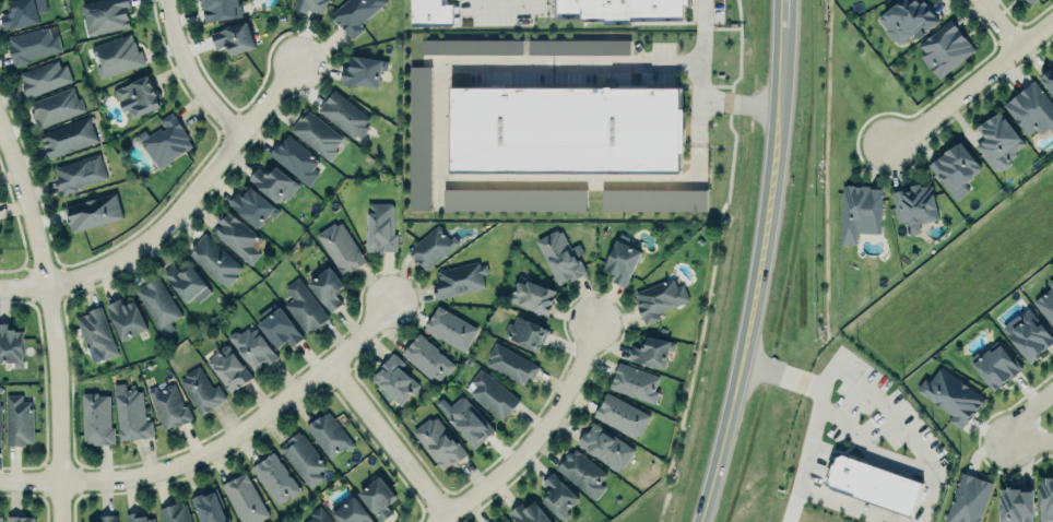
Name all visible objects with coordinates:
building: (1030, 1)
building: (308, 5)
road: (499, 5)
building: (221, 9)
building: (614, 9)
building: (430, 12)
building: (20, 14)
building: (354, 14)
road: (777, 14)
building: (105, 15)
building: (907, 19)
road: (995, 23)
road: (722, 32)
building: (235, 38)
building: (32, 44)
building: (471, 47)
building: (578, 47)
building: (944, 49)
building: (117, 55)
road: (624, 63)
road: (696, 70)
building: (362, 72)
road: (190, 73)
building: (44, 76)
building: (1048, 79)
road: (970, 81)
road: (717, 87)
building: (138, 95)
road: (734, 100)
building: (54, 107)
road: (725, 109)
building: (1031, 109)
parking lot: (556, 110)
building: (343, 115)
building: (565, 128)
building: (316, 134)
building: (67, 137)
building: (419, 138)
building: (166, 141)
building: (997, 141)
building: (294, 159)
building: (955, 169)
building: (79, 173)
road: (473, 181)
building: (273, 183)
building: (513, 200)
building: (653, 200)
building: (253, 206)
building: (914, 206)
building: (859, 212)
building: (92, 213)
road: (173, 213)
building: (380, 228)
building: (236, 236)
building: (340, 248)
building: (429, 248)
building: (559, 257)
building: (215, 260)
building: (622, 260)
road: (753, 276)
building: (459, 278)
building: (185, 282)
building: (327, 288)
building: (532, 297)
building: (659, 299)
building: (158, 304)
building: (1046, 304)
building: (304, 306)
road: (50, 317)
building: (127, 319)
building: (280, 329)
building: (450, 329)
building: (525, 333)
building: (96, 334)
building: (1027, 335)
building: (10, 346)
building: (252, 347)
building: (651, 349)
building: (426, 358)
building: (510, 364)
building: (995, 367)
building: (228, 368)
road: (779, 375)
building: (395, 380)
building: (635, 382)
building: (201, 390)
building: (951, 394)
building: (492, 395)
building: (0, 400)
building: (168, 406)
building: (131, 414)
building: (622, 414)
building: (17, 418)
building: (97, 419)
building: (466, 420)
road: (900, 425)
road: (1015, 428)
building: (0, 430)
building: (329, 436)
road: (539, 437)
road: (389, 441)
building: (439, 443)
building: (605, 444)
road: (865, 447)
road: (220, 449)
parking lot: (857, 449)
road: (801, 454)
building: (303, 458)
building: (582, 471)
building: (274, 478)
building: (872, 487)
building: (557, 496)
building: (969, 497)
building: (1045, 497)
building: (378, 499)
building: (245, 500)
road: (844, 502)
building: (1016, 503)
building: (210, 507)
building: (351, 512)
building: (530, 512)
building: (174, 513)
building: (318, 515)
building: (1, 518)
building: (107, 518)
building: (138, 518)
building: (20, 519)
building: (501, 520)

